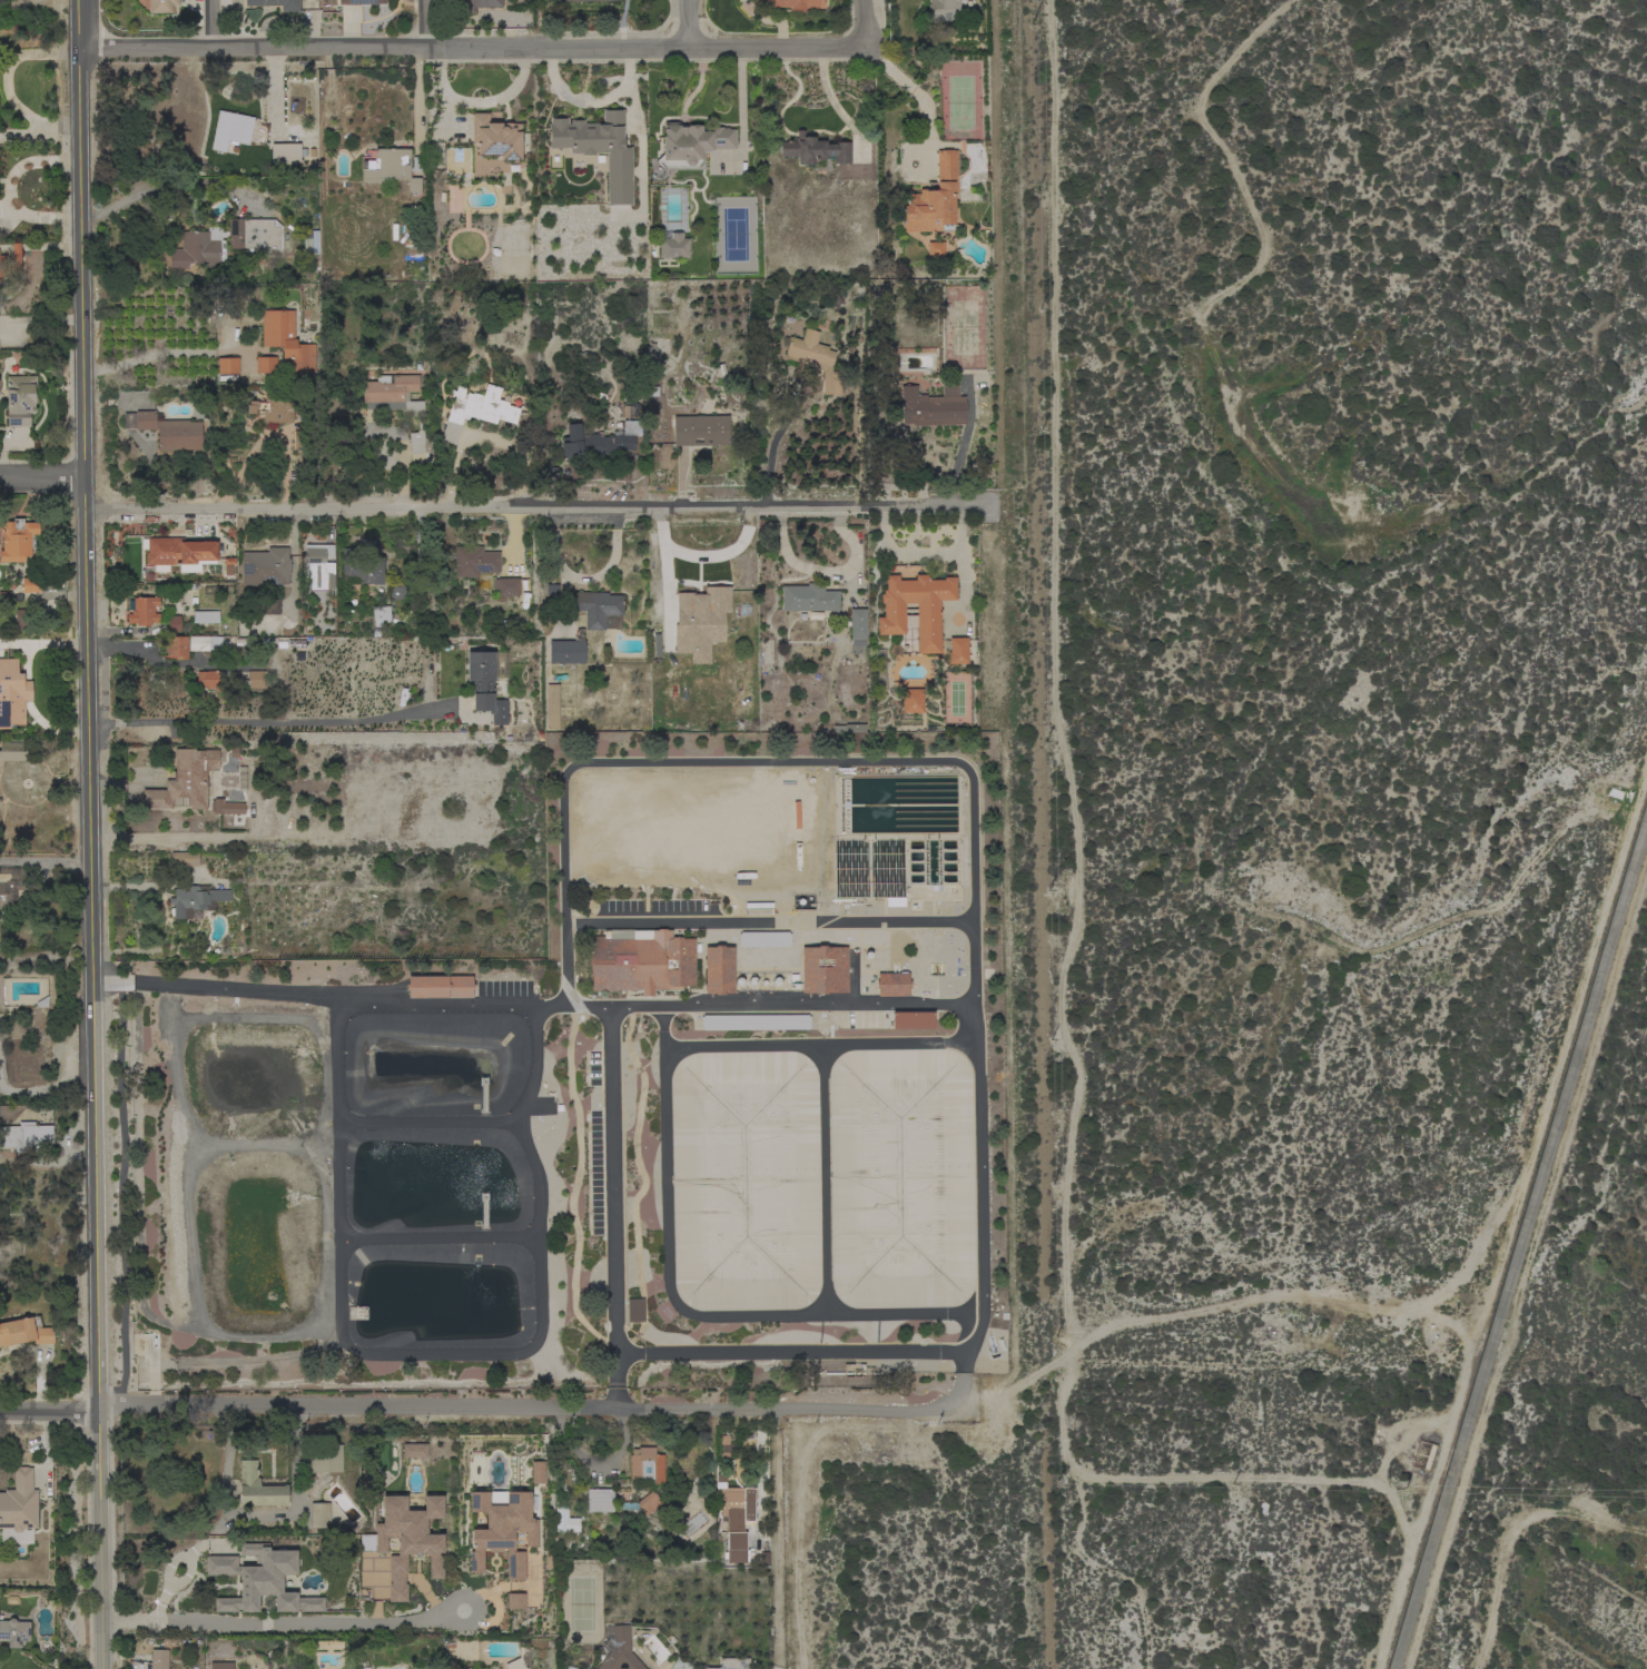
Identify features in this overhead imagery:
building: (590, 0)
building: (758, 1)
building: (361, 2)
building: (797, 3)
building: (276, 4)
building: (161, 6)
building: (475, 6)
building: (948, 10)
road: (213, 22)
road: (689, 22)
road: (424, 23)
road: (864, 23)
road: (472, 46)
road: (6, 66)
road: (918, 98)
road: (415, 99)
road: (479, 102)
road: (50, 124)
building: (230, 129)
road: (14, 137)
building: (495, 137)
building: (692, 142)
building: (596, 149)
building: (813, 150)
building: (285, 152)
building: (417, 164)
building: (389, 168)
road: (171, 182)
building: (933, 199)
building: (255, 236)
building: (309, 245)
building: (671, 245)
building: (198, 248)
building: (935, 249)
building: (10, 261)
building: (286, 340)
road: (168, 352)
building: (815, 358)
building: (265, 365)
building: (227, 367)
building: (20, 399)
building: (397, 405)
building: (933, 405)
building: (273, 408)
building: (475, 409)
building: (166, 431)
building: (700, 431)
building: (300, 440)
building: (599, 440)
road: (775, 442)
road: (961, 445)
building: (548, 475)
road: (42, 478)
road: (539, 508)
building: (17, 540)
building: (178, 553)
road: (701, 557)
building: (473, 561)
building: (318, 565)
building: (265, 566)
building: (359, 567)
road: (825, 571)
building: (28, 584)
building: (505, 586)
building: (396, 592)
building: (4, 596)
building: (808, 598)
building: (266, 606)
building: (594, 606)
building: (915, 608)
building: (144, 611)
building: (379, 615)
building: (205, 616)
building: (22, 619)
building: (700, 621)
building: (172, 623)
building: (857, 626)
building: (204, 643)
building: (655, 644)
building: (175, 646)
building: (957, 651)
building: (566, 652)
building: (255, 679)
building: (208, 680)
building: (487, 683)
building: (12, 693)
building: (910, 700)
building: (551, 707)
road: (266, 722)
building: (849, 728)
building: (12, 751)
building: (184, 780)
building: (226, 807)
road: (88, 834)
road: (208, 840)
building: (184, 859)
road: (45, 862)
building: (868, 871)
building: (10, 886)
road: (972, 899)
building: (195, 900)
building: (758, 911)
road: (767, 924)
building: (763, 939)
road: (46, 956)
building: (641, 964)
building: (823, 969)
building: (718, 970)
building: (892, 984)
building: (438, 986)
road: (332, 995)
road: (791, 1005)
building: (910, 1020)
building: (753, 1021)
building: (24, 1136)
road: (610, 1209)
building: (24, 1332)
road: (49, 1411)
road: (437, 1411)
road: (894, 1411)
building: (413, 1451)
building: (325, 1458)
building: (645, 1464)
building: (535, 1472)
building: (258, 1488)
building: (600, 1500)
building: (648, 1503)
building: (18, 1509)
building: (319, 1515)
building: (563, 1520)
building: (731, 1522)
building: (501, 1529)
building: (407, 1539)
road: (775, 1542)
building: (259, 1580)
building: (514, 1600)
road: (280, 1614)
building: (14, 1632)
building: (618, 1650)
building: (158, 1659)
building: (520, 1659)
building: (680, 1662)
building: (732, 1663)
building: (220, 1666)
building: (466, 1668)

